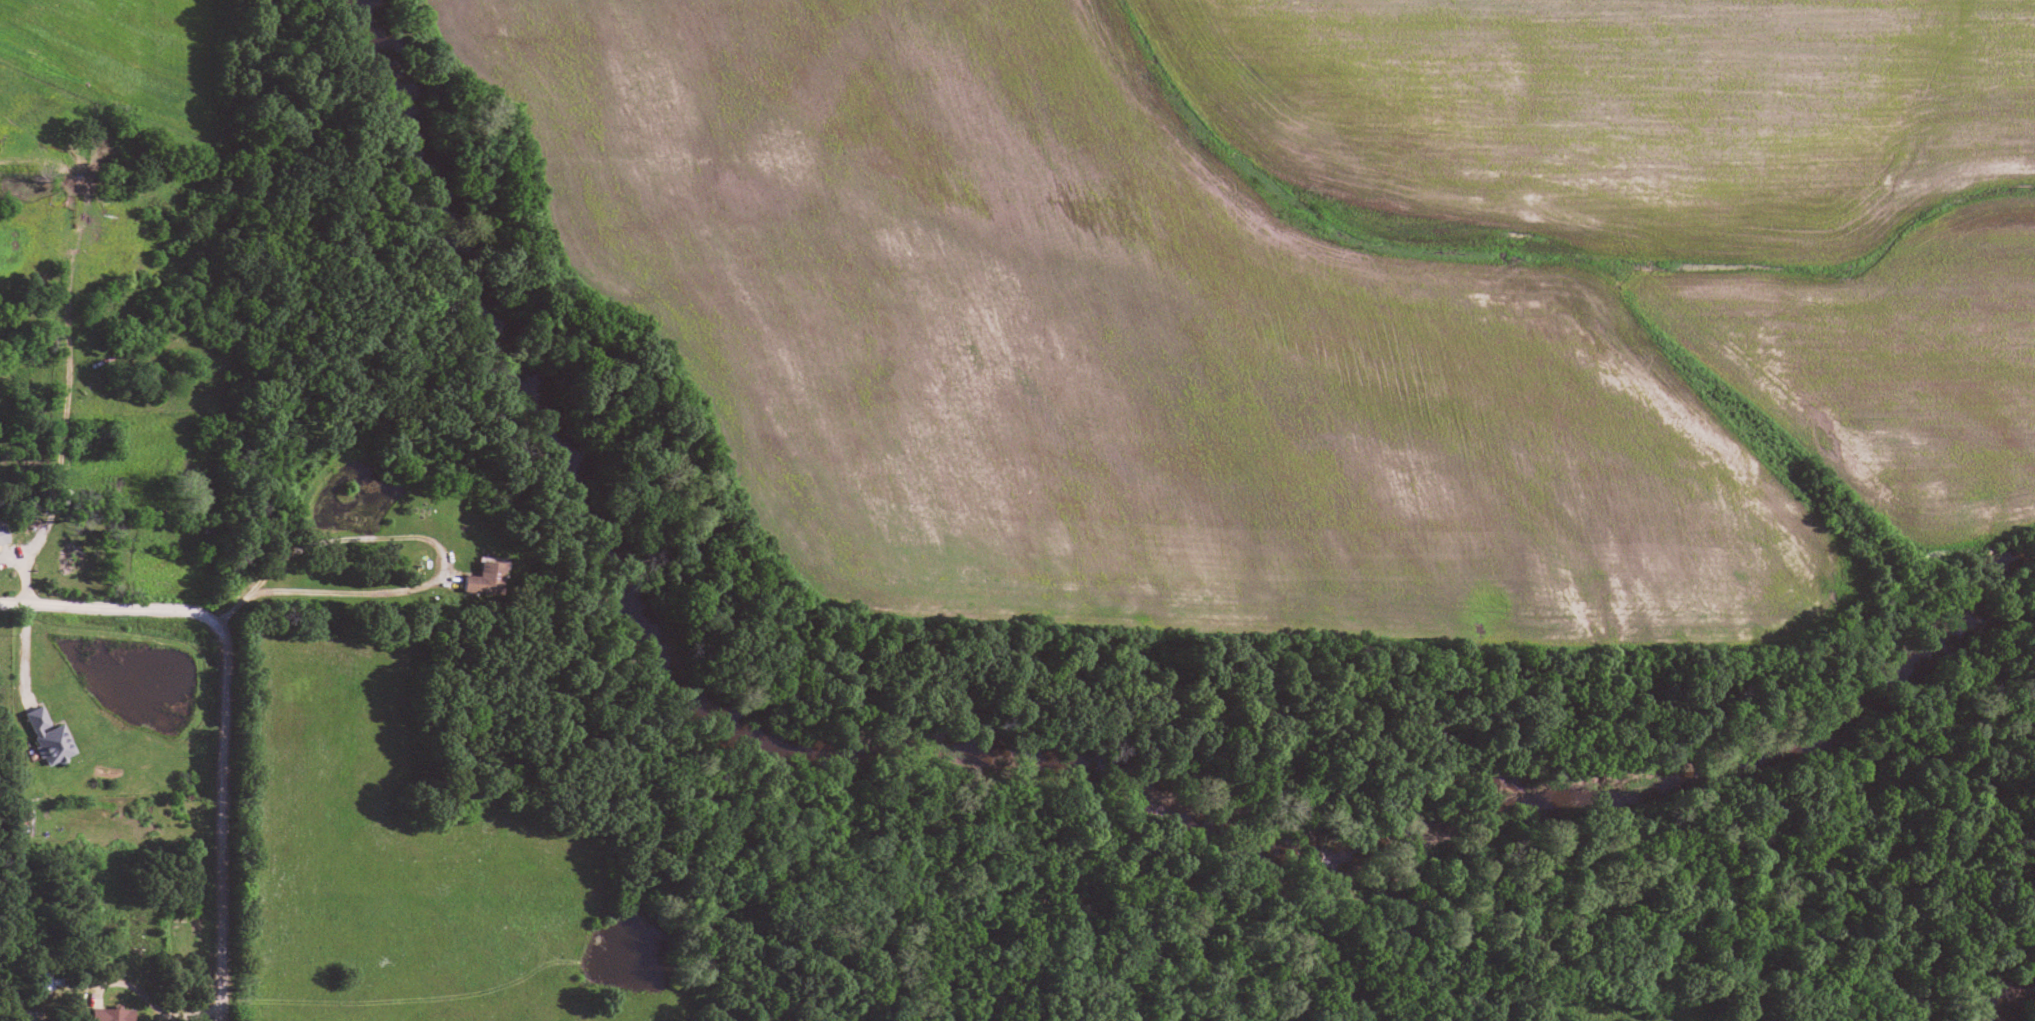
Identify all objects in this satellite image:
road: (63, 302)
building: (2, 534)
road: (416, 537)
road: (32, 555)
building: (484, 575)
road: (233, 605)
road: (106, 607)
road: (21, 650)
building: (48, 734)
river: (1026, 765)
building: (21, 820)
road: (215, 820)
river: (2017, 1002)
building: (110, 1013)

